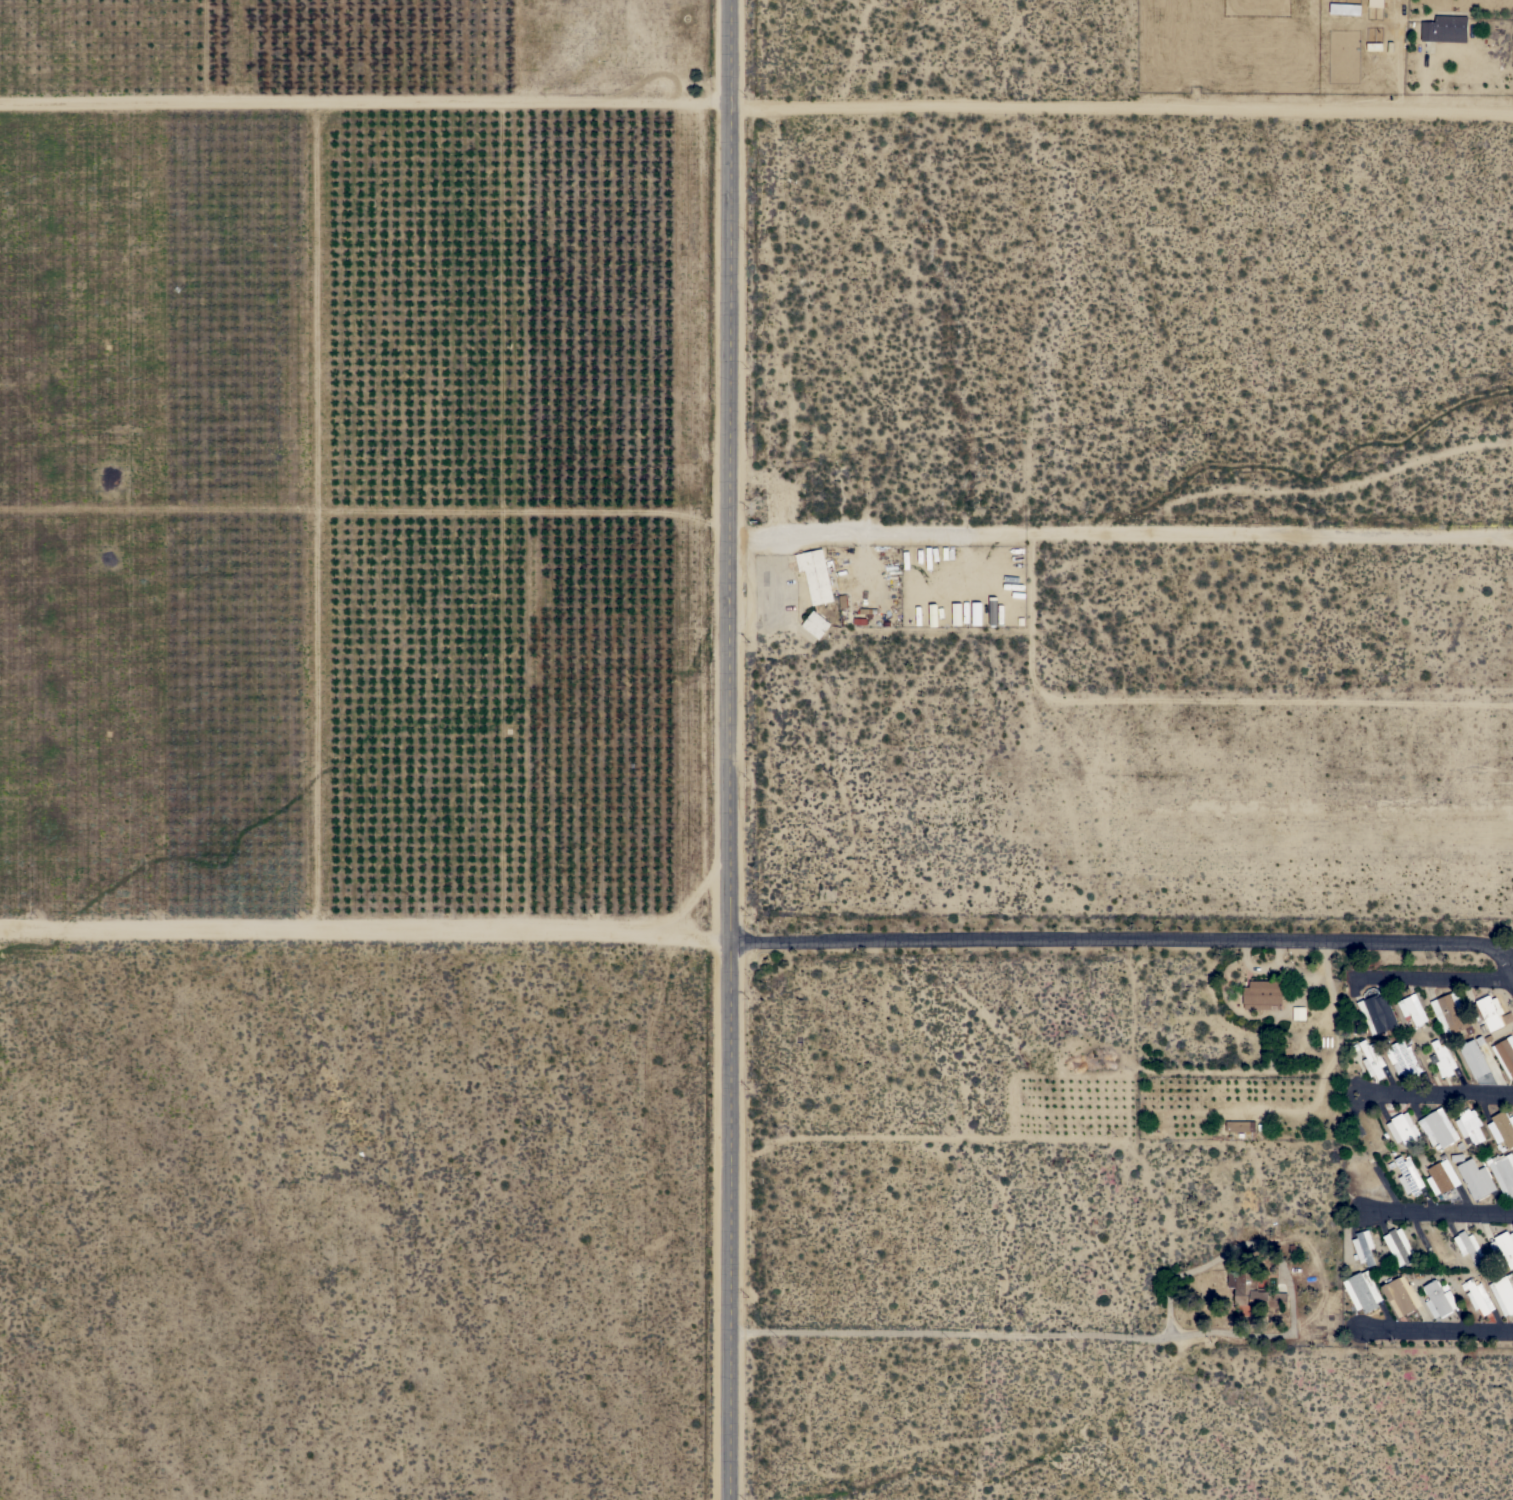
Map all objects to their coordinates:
building: (1374, 3)
building: (1445, 29)
road: (756, 103)
crop: (361, 482)
road: (1120, 532)
road: (862, 558)
road: (957, 564)
building: (815, 575)
building: (993, 611)
building: (956, 613)
building: (976, 613)
building: (815, 624)
airport: (1156, 743)
road: (729, 750)
road: (365, 931)
road: (1099, 938)
road: (1492, 950)
road: (1277, 953)
road: (1274, 967)
road: (1435, 976)
road: (1326, 984)
building: (1262, 995)
building: (1412, 1009)
building: (1379, 1010)
building: (1487, 1011)
building: (1449, 1012)
building: (1298, 1013)
building: (1512, 1033)
building: (1505, 1054)
building: (1443, 1058)
building: (1474, 1058)
building: (1372, 1059)
building: (1403, 1059)
road: (1436, 1091)
building: (1240, 1126)
building: (1469, 1126)
building: (1402, 1128)
building: (1438, 1128)
building: (1502, 1128)
building: (1366, 1132)
road: (1031, 1135)
building: (1503, 1172)
building: (1368, 1174)
building: (1409, 1175)
building: (1441, 1176)
building: (1475, 1178)
road: (1433, 1209)
building: (1398, 1246)
building: (1468, 1246)
building: (1504, 1246)
building: (1363, 1247)
building: (1362, 1291)
building: (1254, 1292)
building: (1503, 1293)
building: (1401, 1295)
building: (1478, 1297)
building: (1439, 1298)
road: (1434, 1327)
road: (1030, 1331)

